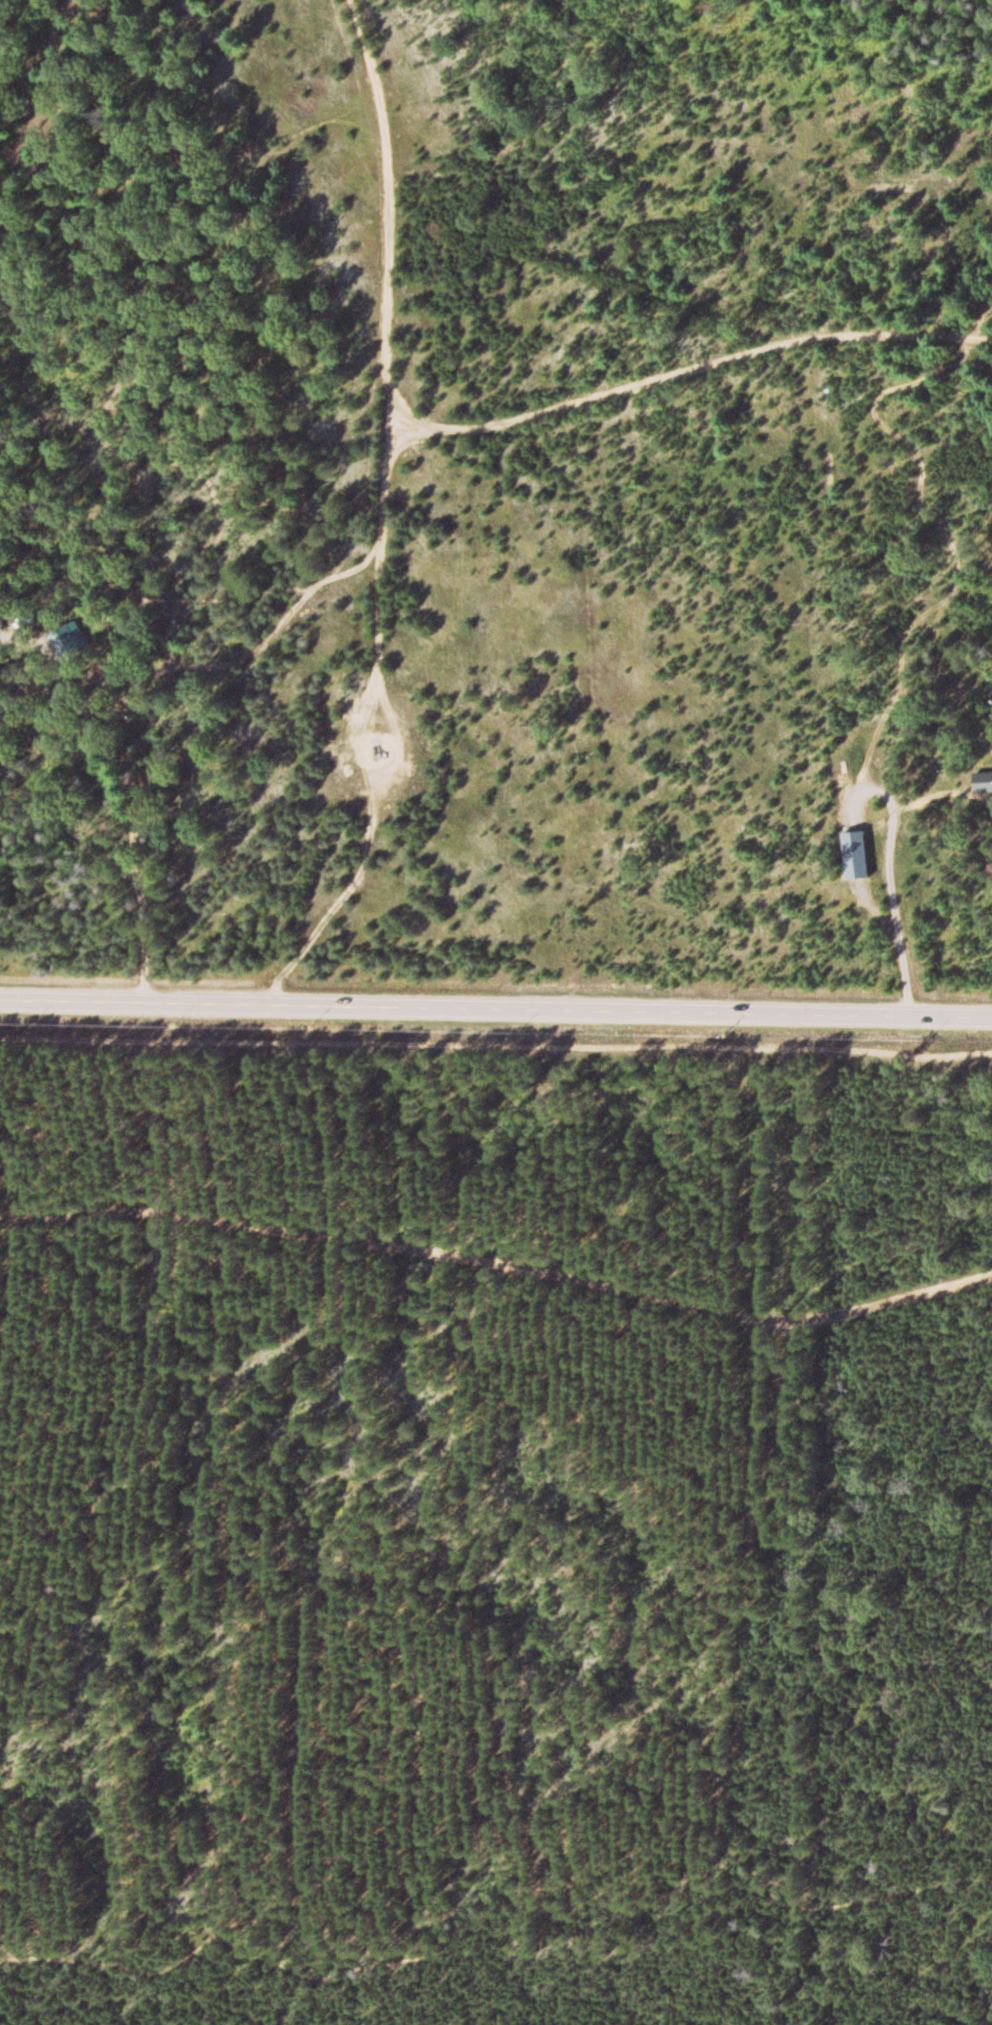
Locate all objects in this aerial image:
road: (367, 65)
road: (688, 369)
road: (387, 417)
petroleum well: (375, 748)
building: (979, 784)
building: (850, 856)
road: (495, 1011)
road: (498, 1266)
road: (492, 1896)

